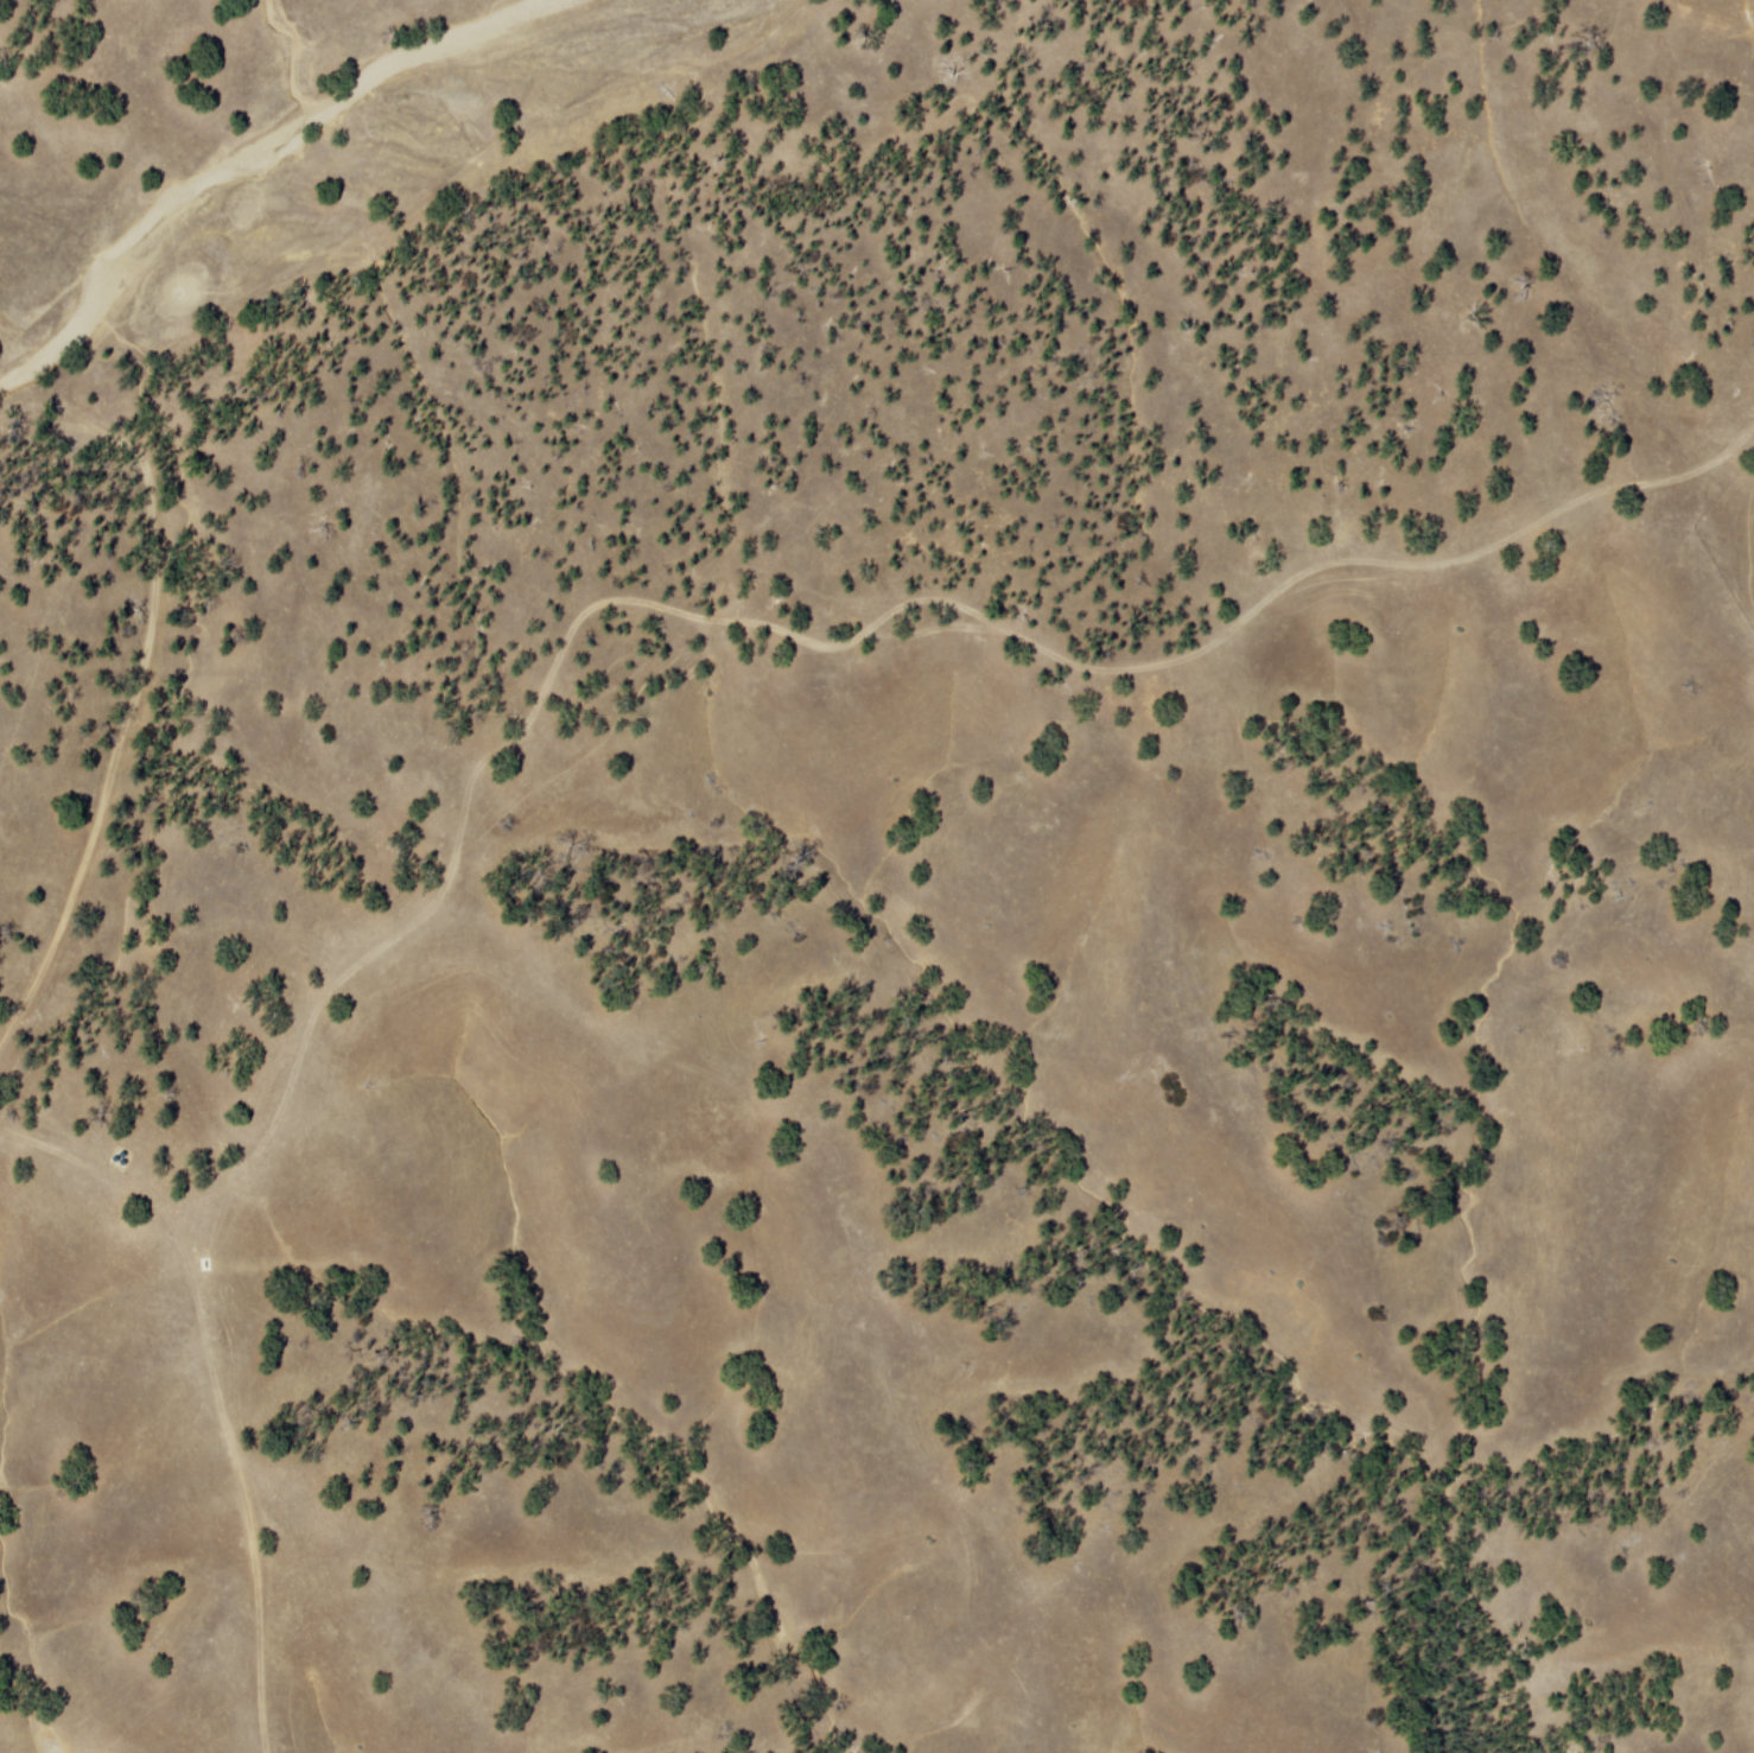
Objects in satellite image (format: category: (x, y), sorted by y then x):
river: (248, 153)
road: (132, 679)
road: (320, 998)
road: (210, 1387)

